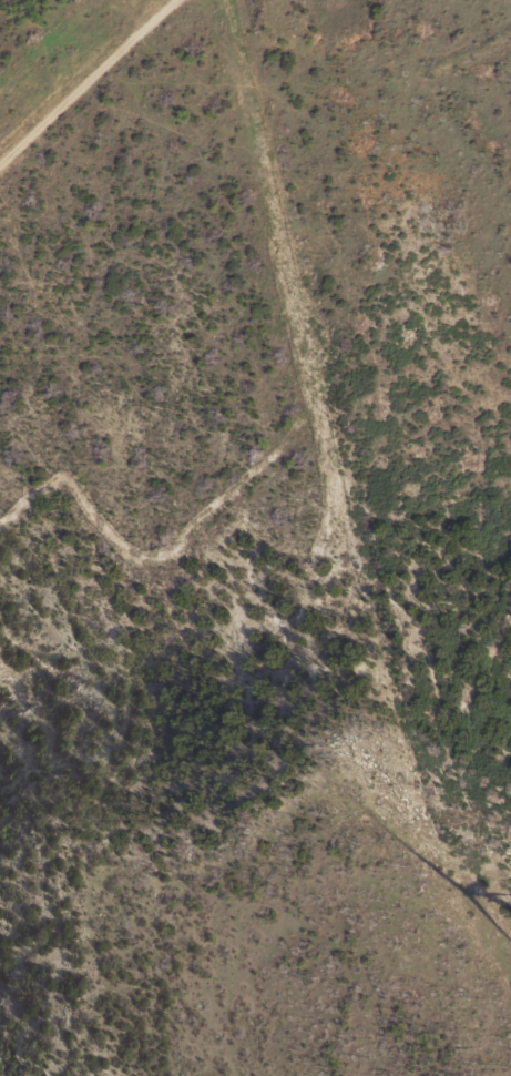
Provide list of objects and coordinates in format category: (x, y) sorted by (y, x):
road: (108, 124)

